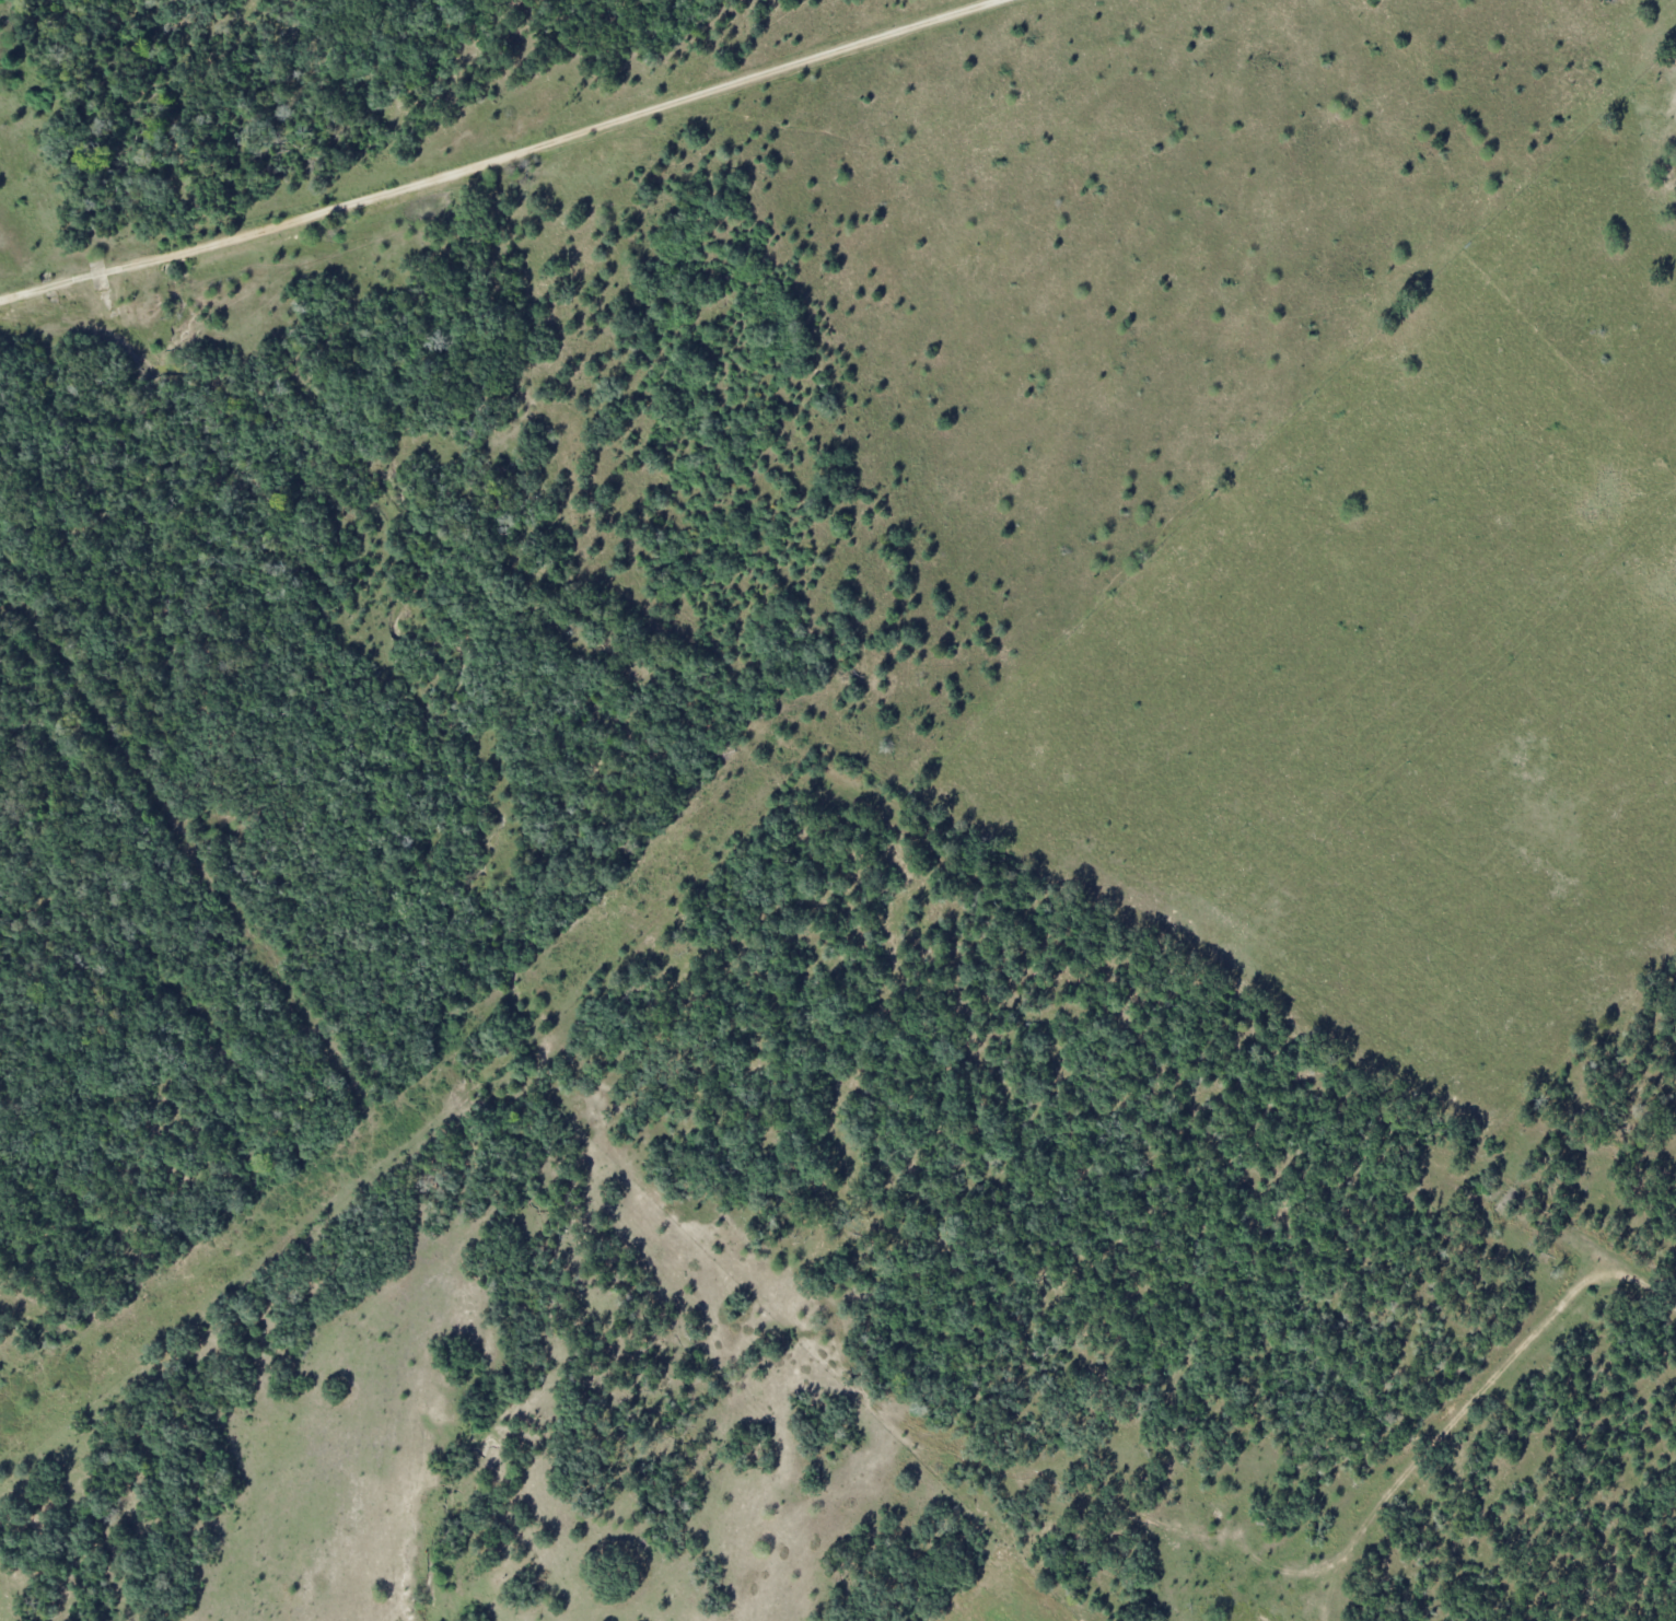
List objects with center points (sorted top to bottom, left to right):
road: (1460, 1407)

